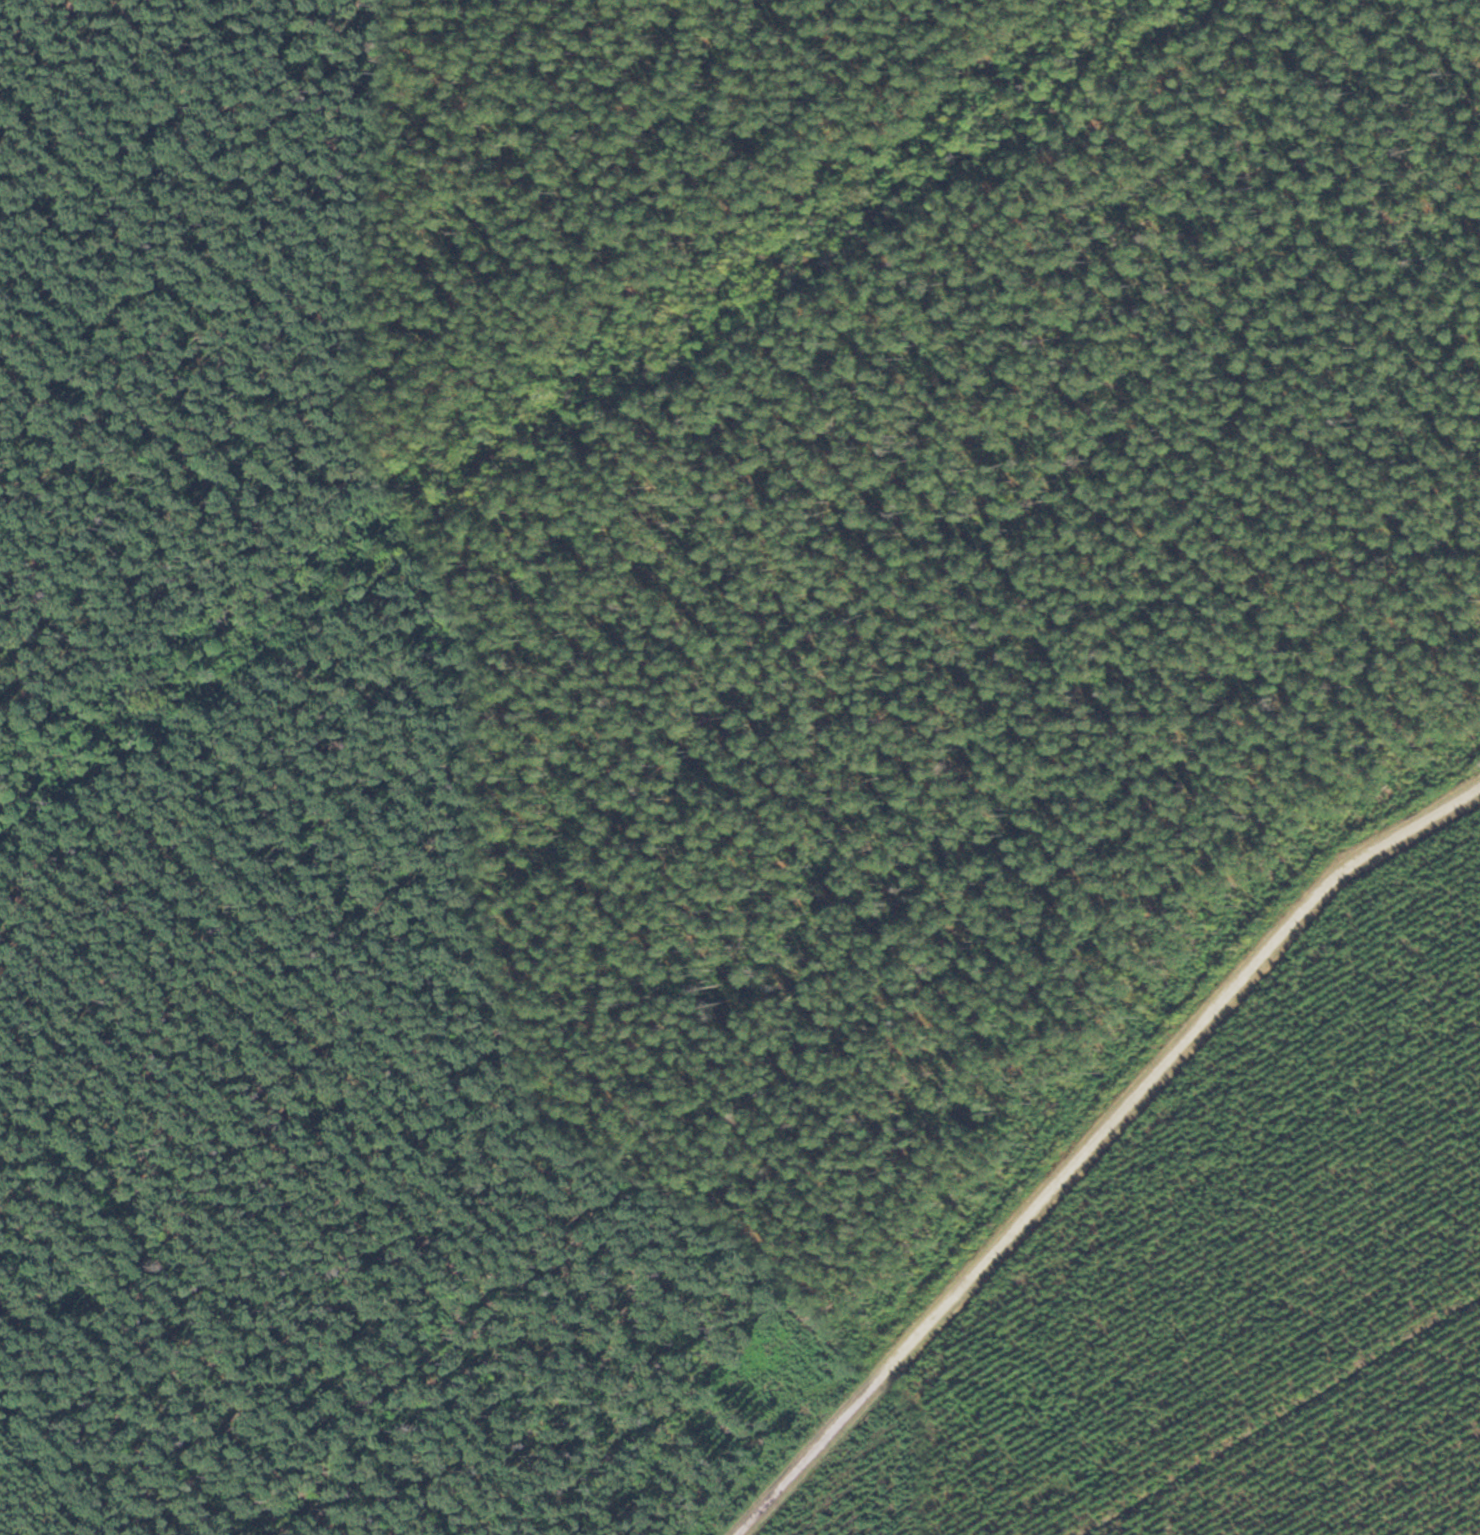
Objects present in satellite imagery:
road: (1096, 1145)

